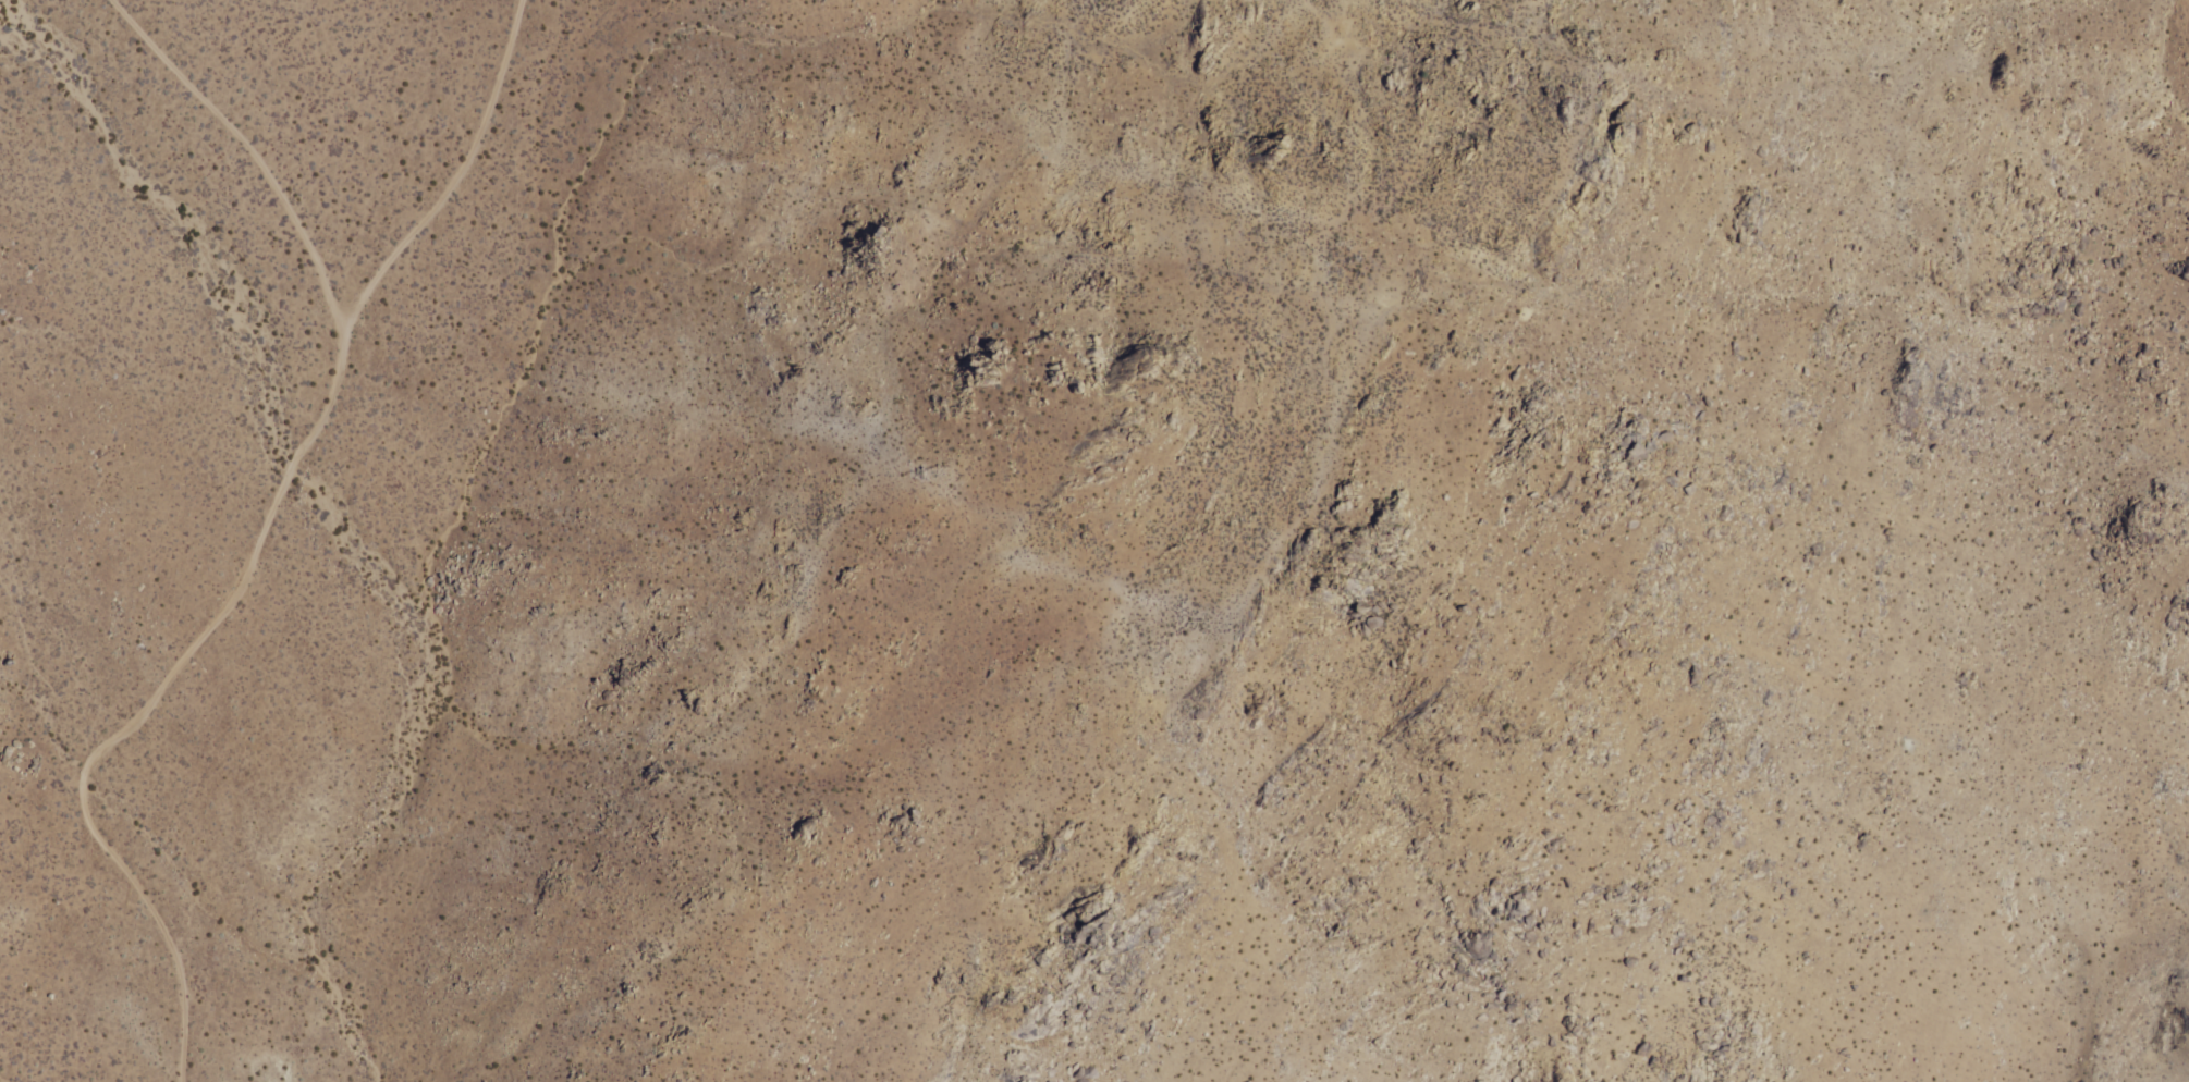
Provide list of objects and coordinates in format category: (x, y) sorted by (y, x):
road: (252, 160)
road: (455, 186)
road: (143, 711)

